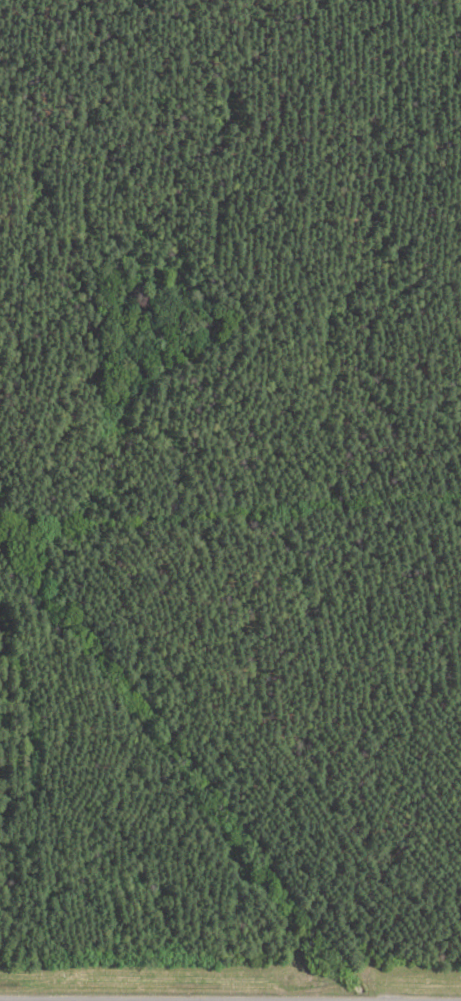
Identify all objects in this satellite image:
road: (7, 1000)

